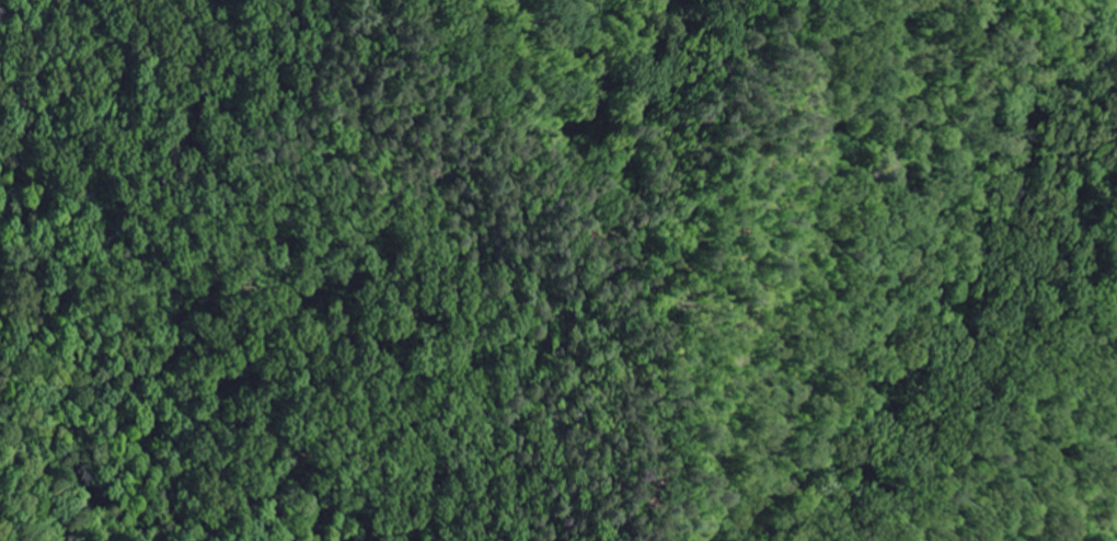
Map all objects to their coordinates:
road: (1103, 523)

